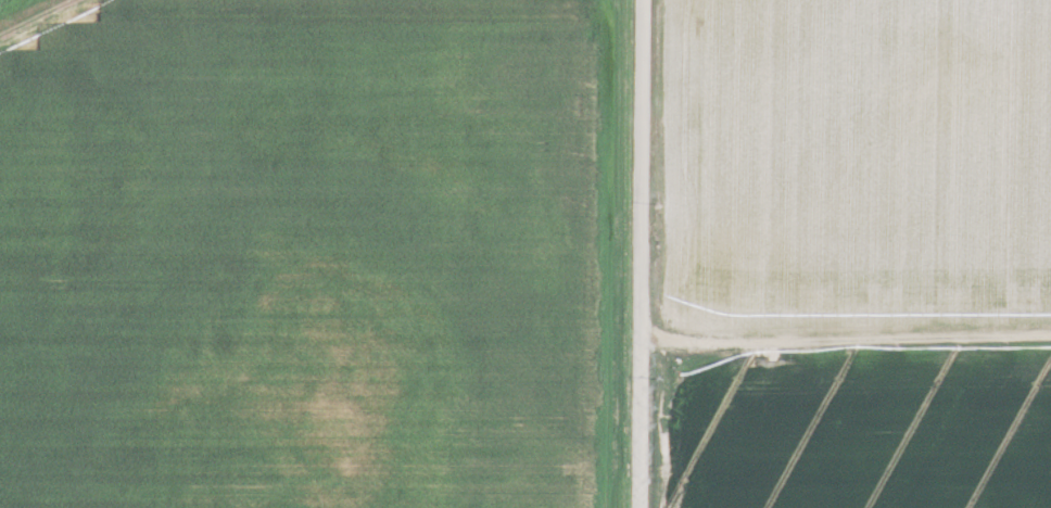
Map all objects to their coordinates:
road: (641, 253)
road: (845, 339)

